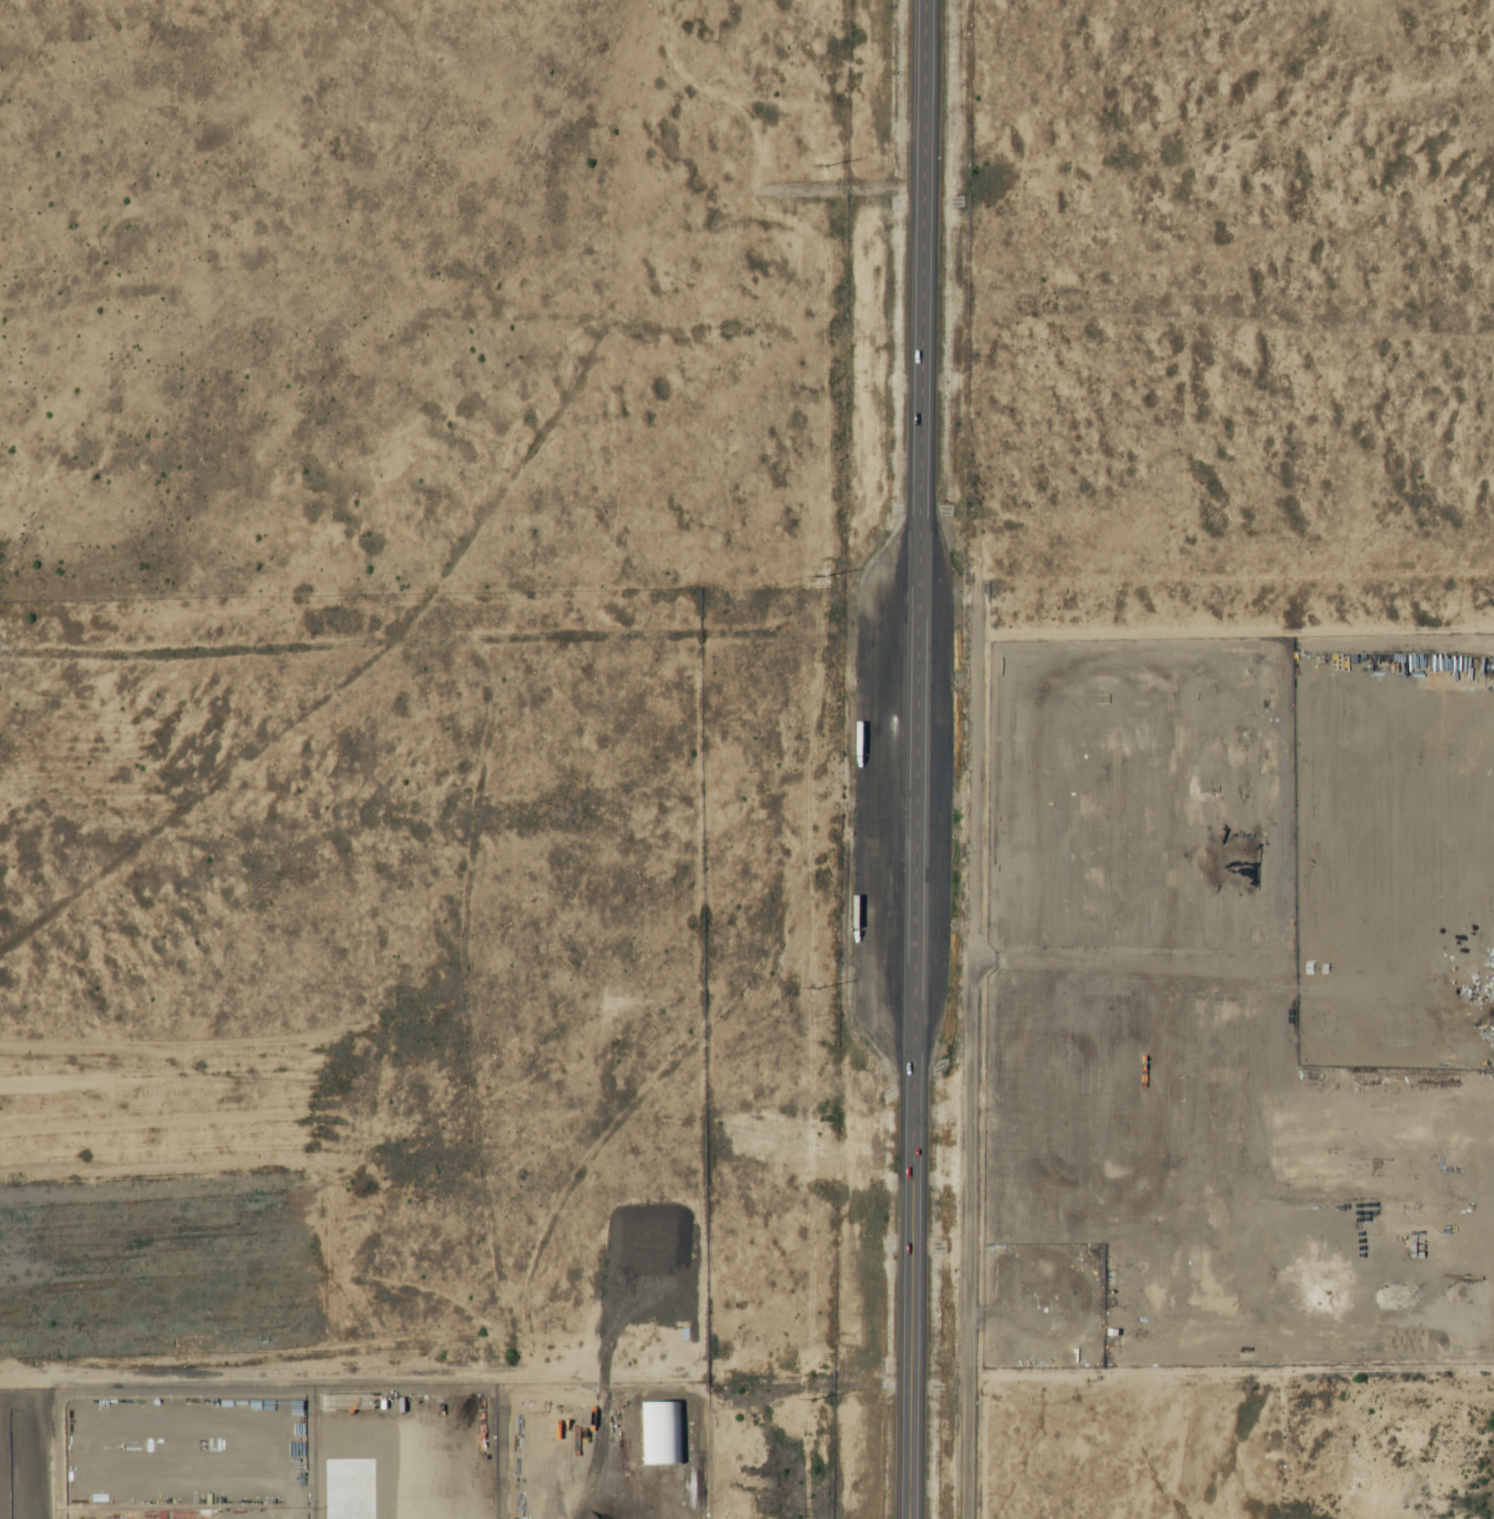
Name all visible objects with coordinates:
road: (922, 190)
road: (912, 949)
building: (345, 1401)
building: (660, 1432)

